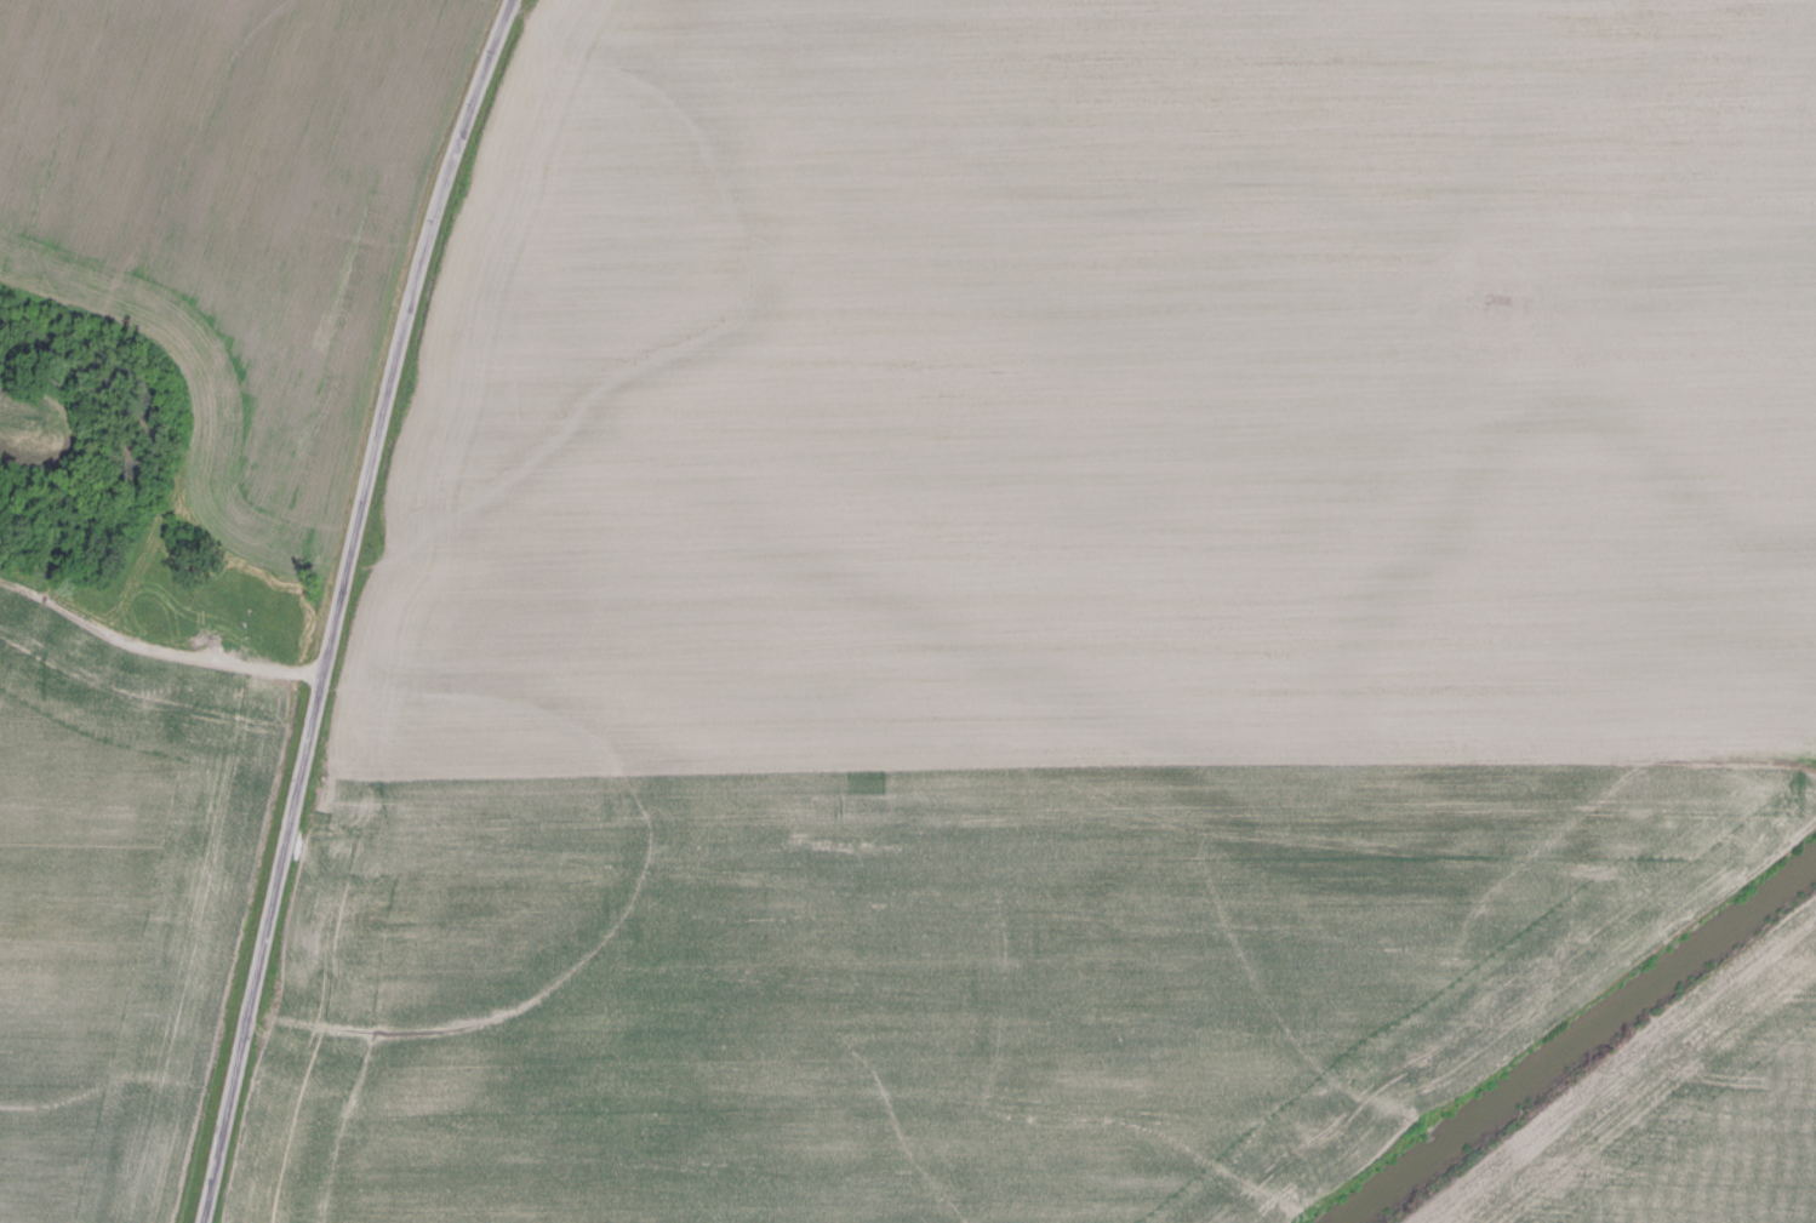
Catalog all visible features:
road: (347, 347)
road: (127, 648)
road: (212, 955)

